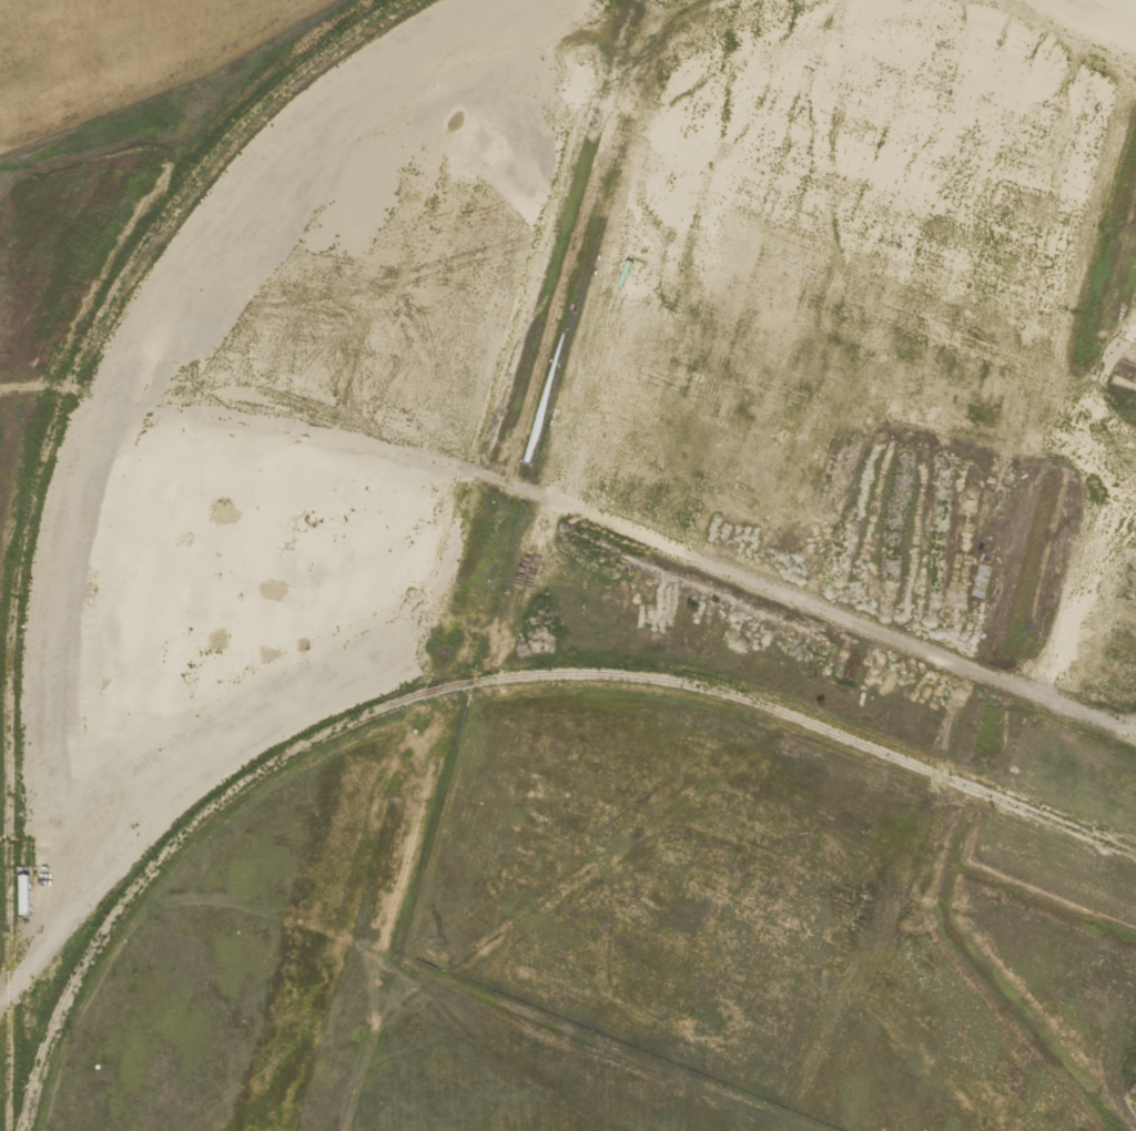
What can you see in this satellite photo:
railway: (34, 497)
power tower: (816, 672)
railway: (484, 680)
railway: (1122, 848)
power tower: (446, 939)

